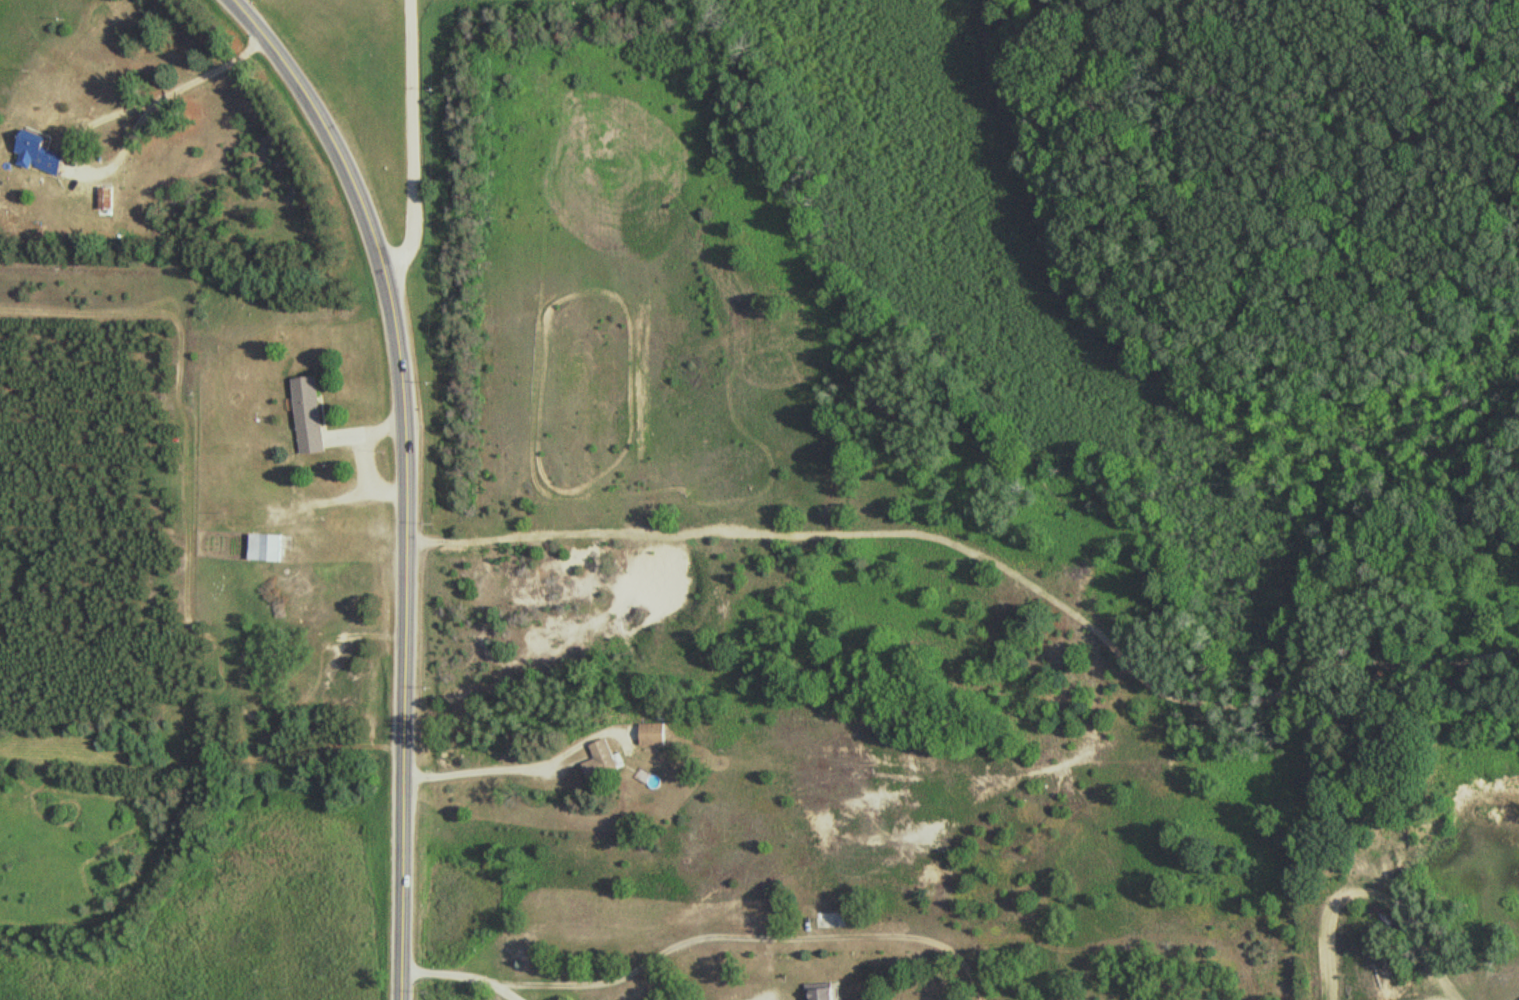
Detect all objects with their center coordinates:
road: (325, 124)
road: (412, 140)
building: (39, 156)
building: (310, 415)
road: (942, 539)
building: (266, 546)
road: (406, 633)
building: (654, 733)
building: (602, 760)
building: (823, 991)

